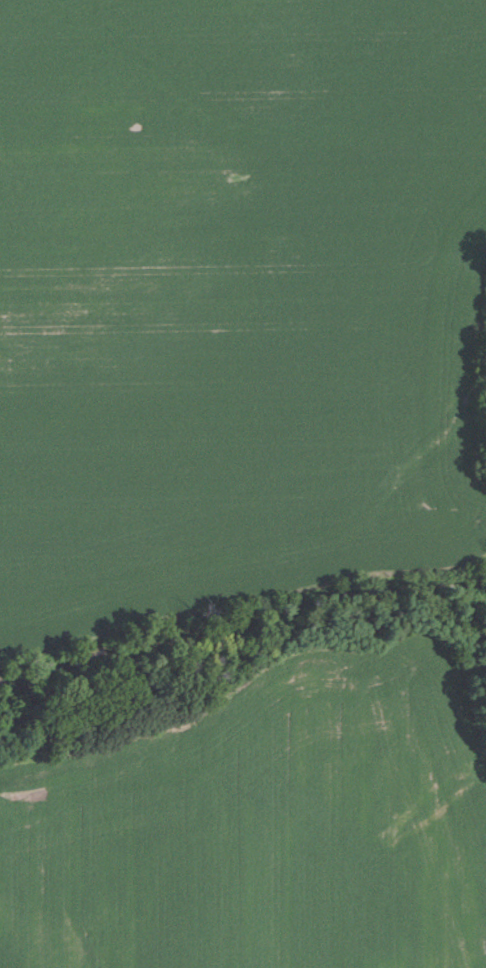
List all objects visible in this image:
crop: (237, 304)
crop: (262, 824)

